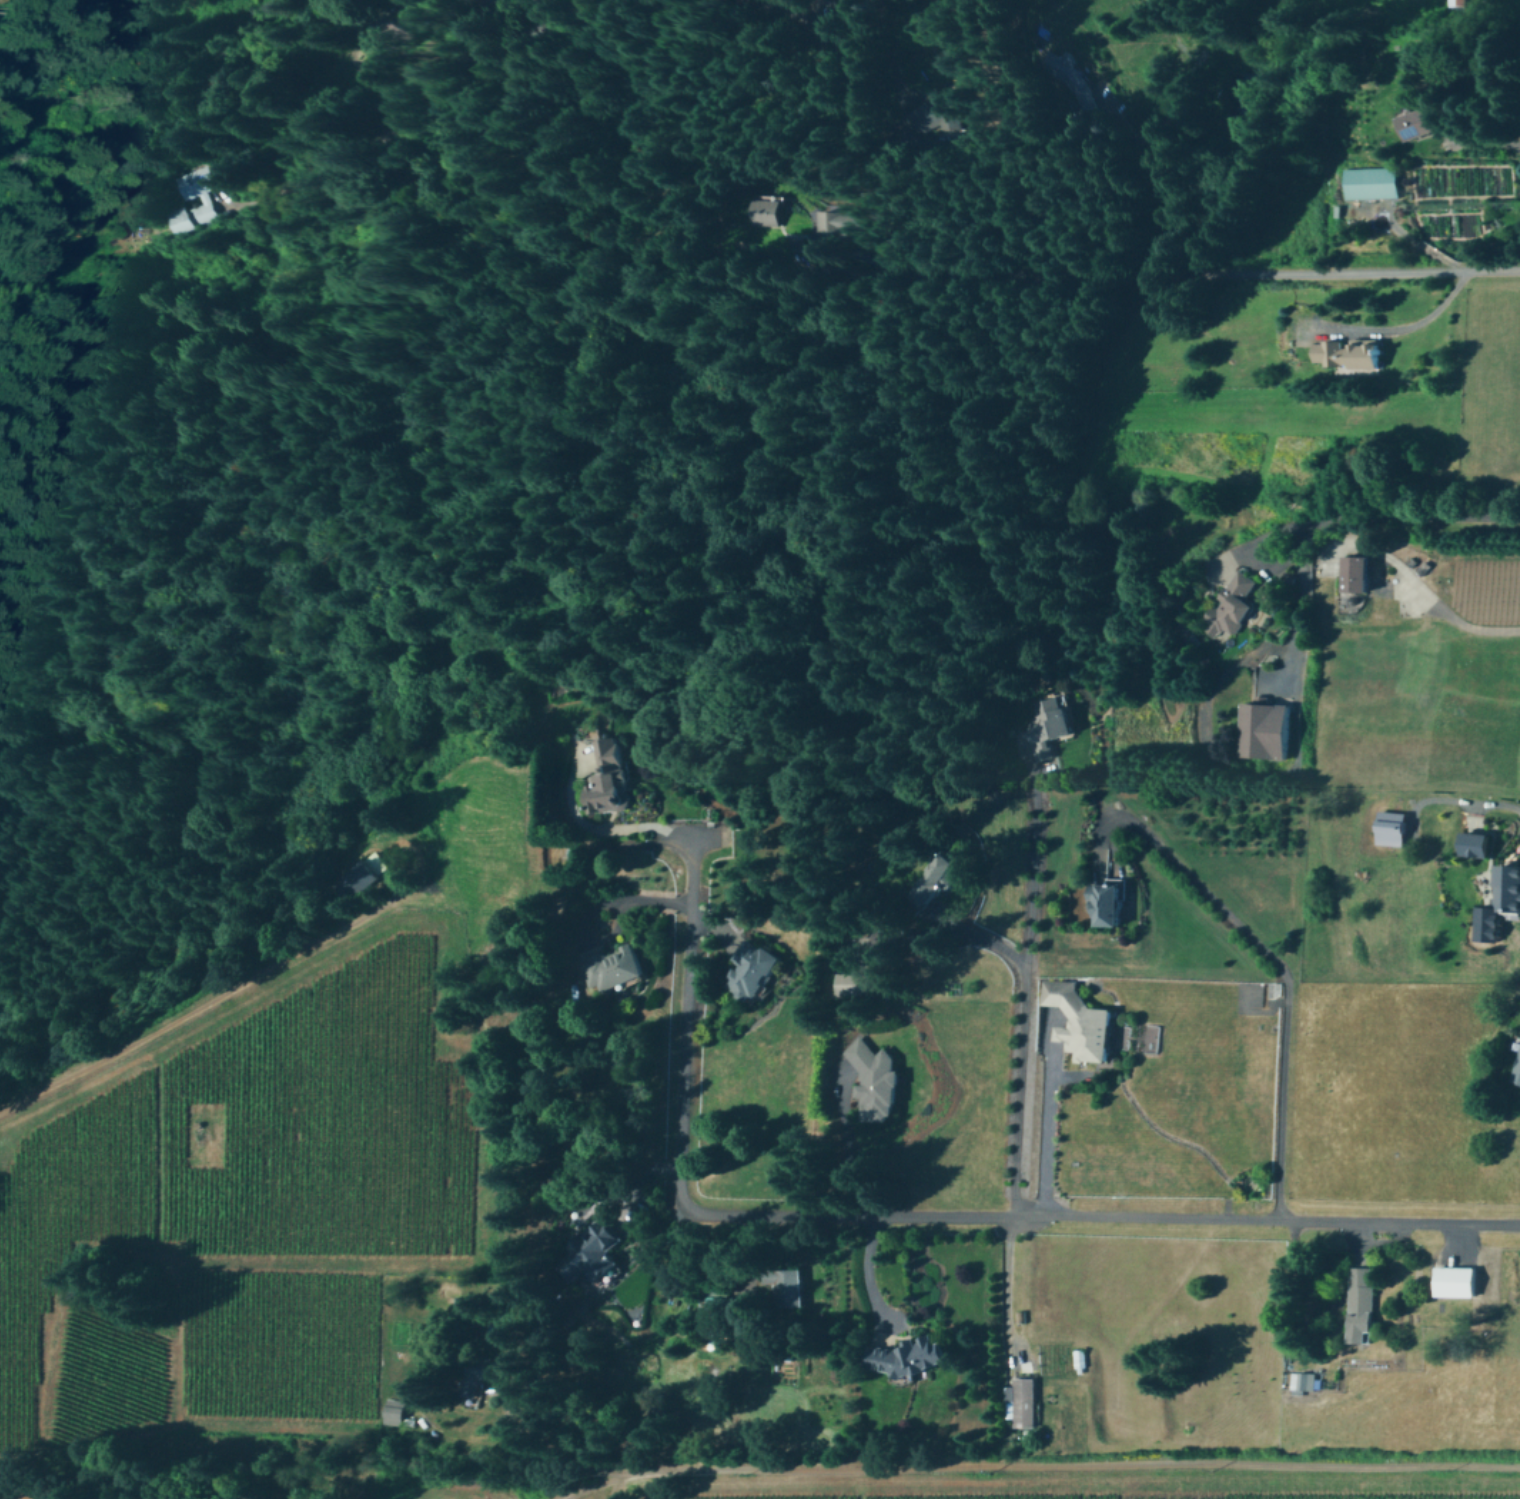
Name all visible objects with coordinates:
building: (1462, 1)
building: (392, 31)
road: (429, 66)
building: (926, 110)
building: (1427, 119)
road: (1494, 142)
road: (304, 177)
building: (1373, 181)
building: (204, 196)
building: (763, 210)
building: (834, 220)
road: (1421, 246)
road: (1182, 276)
road: (1405, 322)
building: (1351, 352)
road: (1407, 517)
building: (1363, 573)
building: (1232, 605)
road: (1444, 616)
building: (1051, 724)
building: (1267, 730)
road: (1278, 776)
building: (611, 779)
building: (1395, 827)
road: (606, 830)
building: (1482, 843)
road: (1040, 863)
building: (369, 869)
building: (1112, 901)
building: (1501, 904)
road: (590, 907)
road: (985, 933)
road: (1271, 962)
building: (614, 967)
building: (758, 972)
building: (853, 982)
road: (201, 1005)
building: (1080, 1019)
building: (1514, 1064)
building: (877, 1078)
road: (1021, 1088)
road: (1037, 1136)
road: (845, 1144)
road: (914, 1217)
building: (603, 1248)
road: (855, 1274)
building: (1456, 1280)
building: (792, 1283)
road: (997, 1286)
building: (1360, 1302)
building: (913, 1355)
building: (1303, 1381)
building: (1024, 1401)
building: (396, 1410)
road: (1060, 1466)
road: (578, 1489)
road: (604, 1490)

